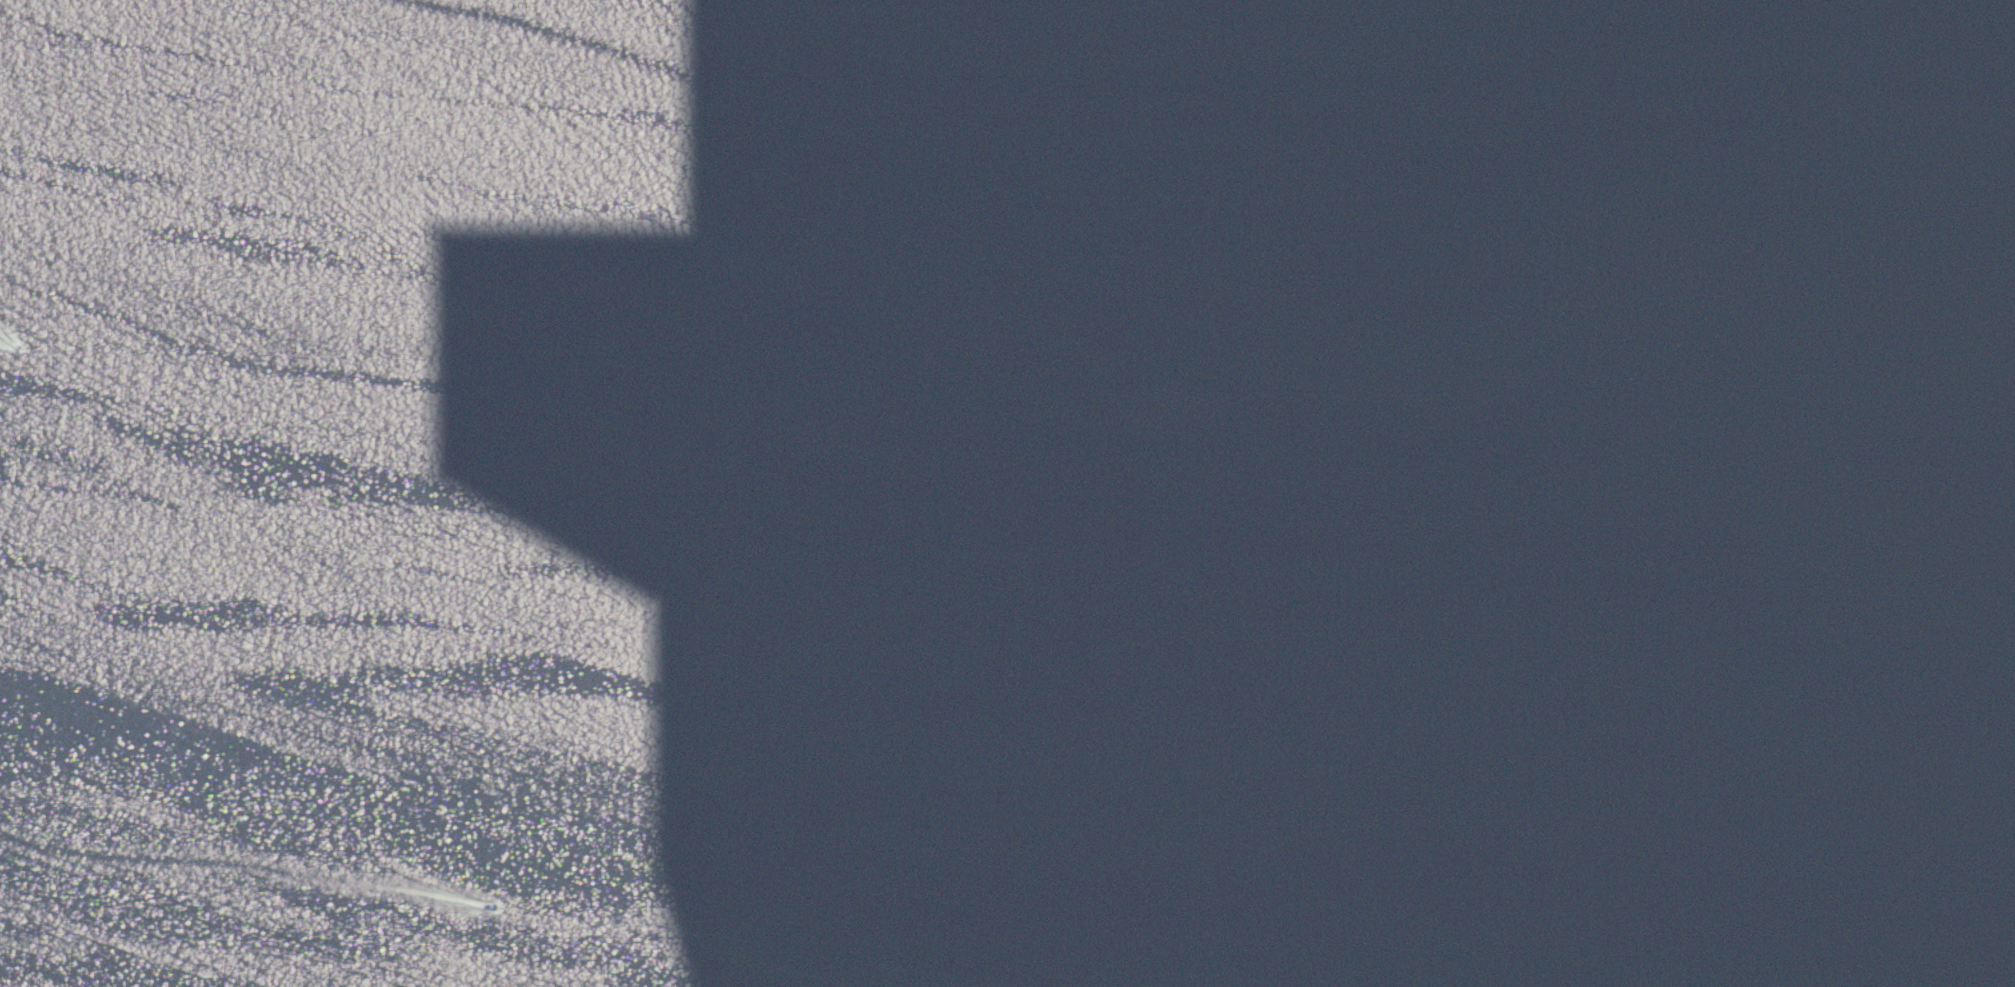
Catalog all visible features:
river: (999, 587)

